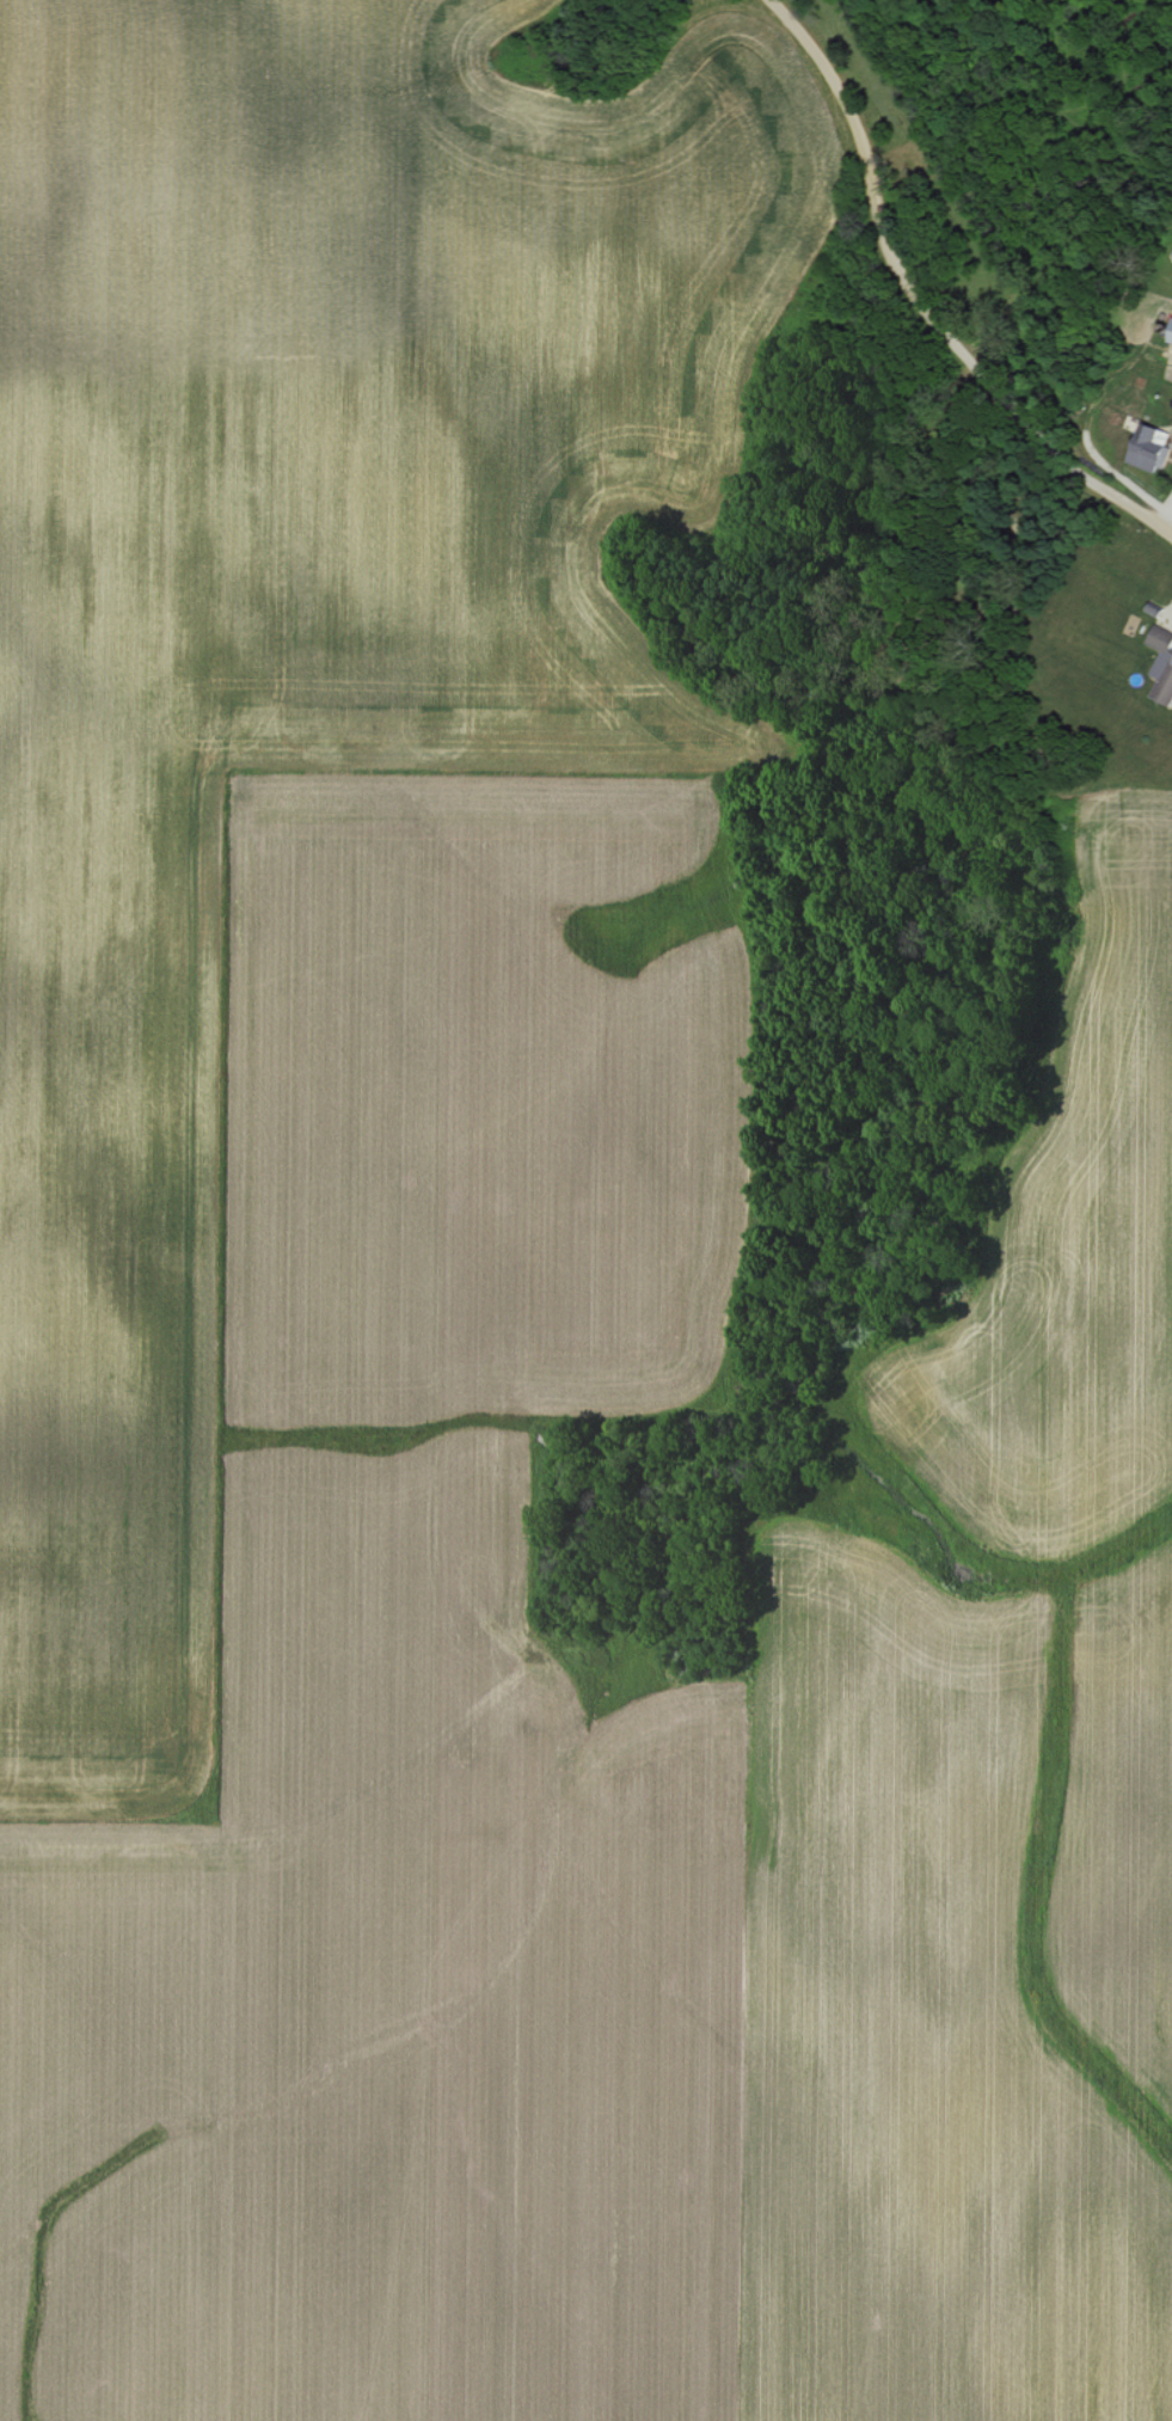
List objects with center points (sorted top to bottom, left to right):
road: (924, 296)

